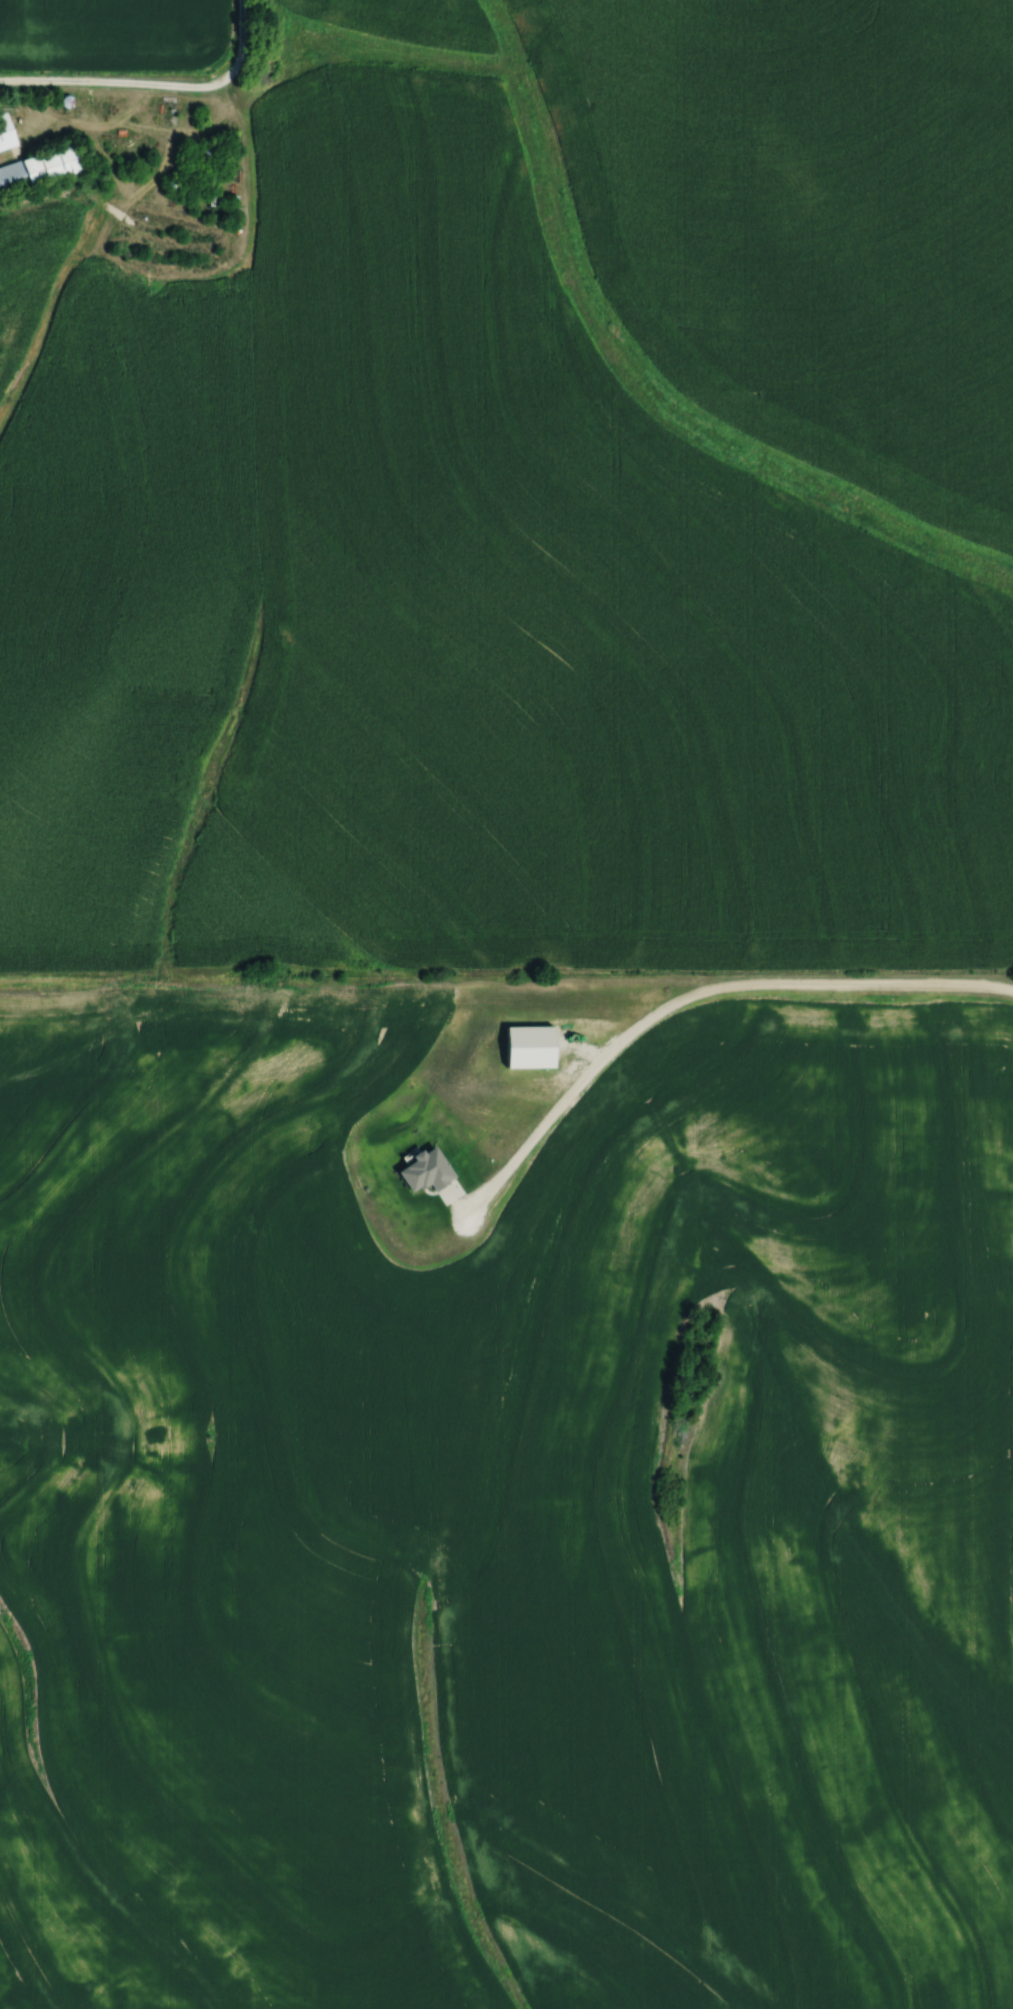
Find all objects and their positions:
road: (158, 90)
building: (6, 134)
building: (217, 145)
building: (38, 172)
road: (699, 993)

